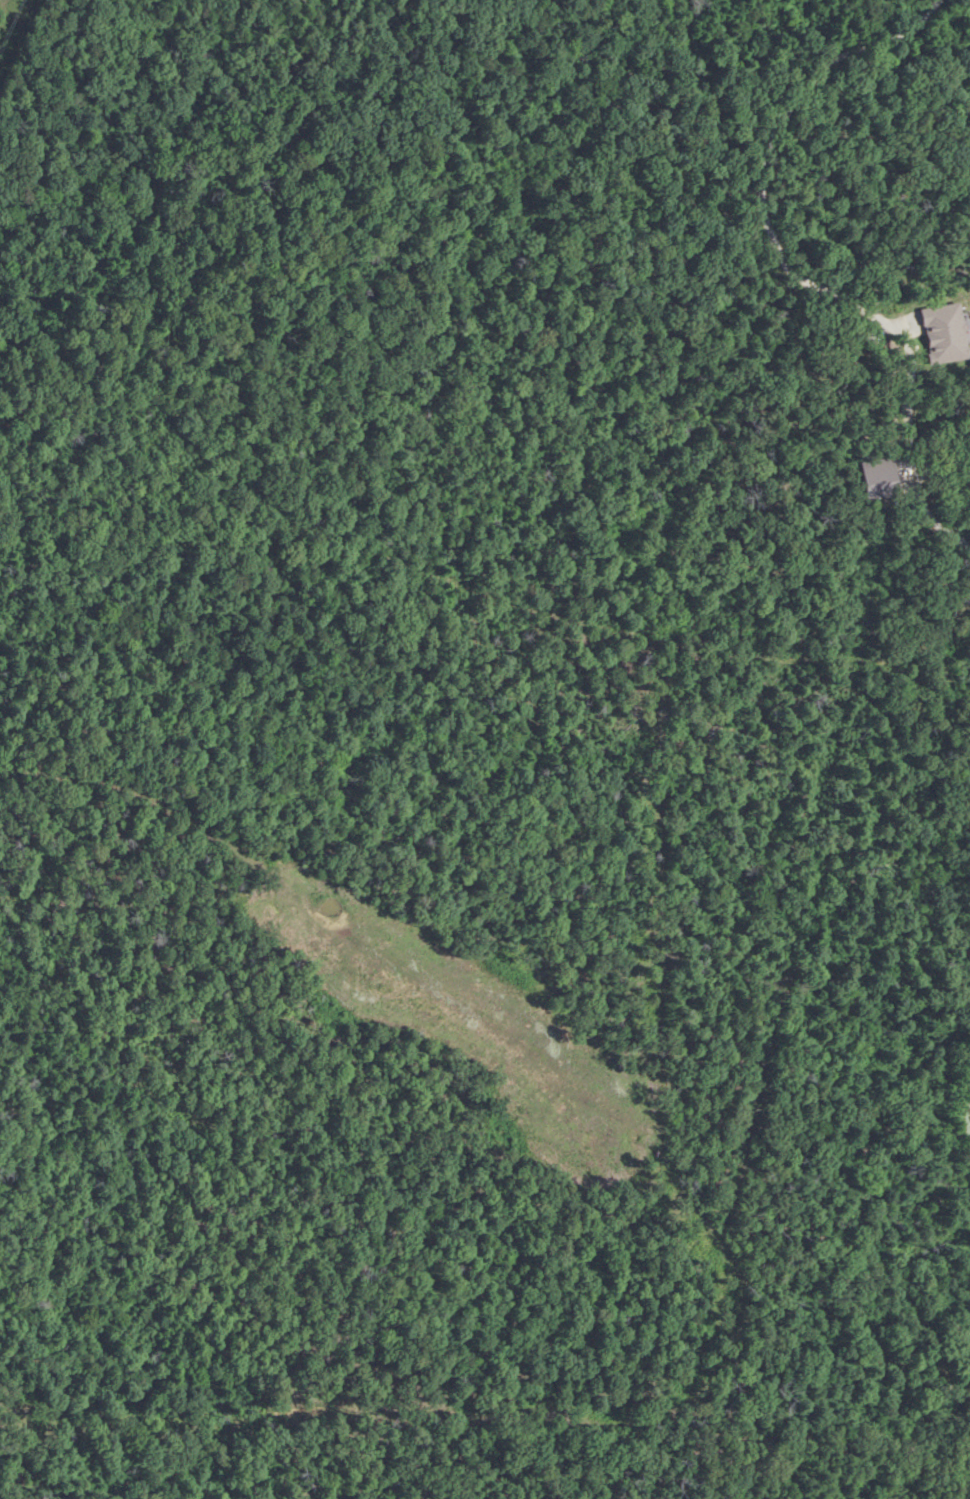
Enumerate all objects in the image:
building: (878, 479)
road: (461, 1011)

